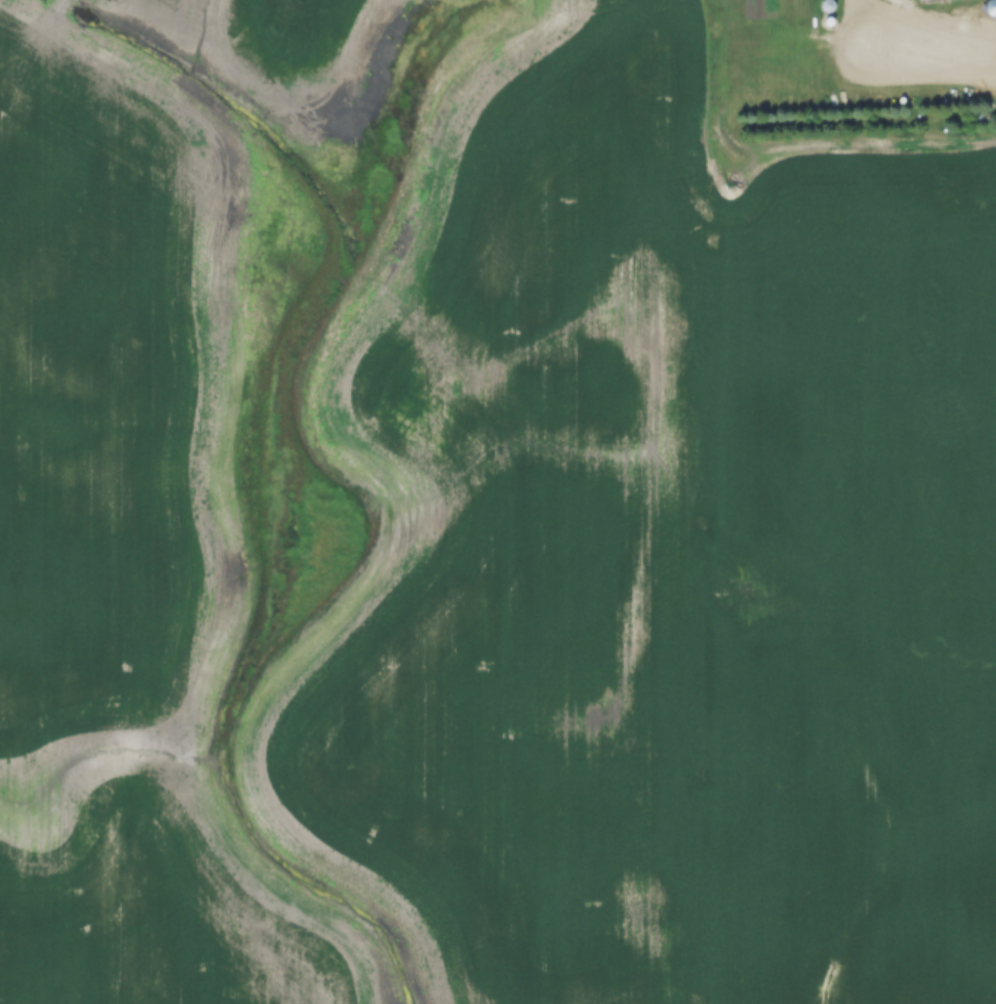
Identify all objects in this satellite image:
road: (916, 37)

